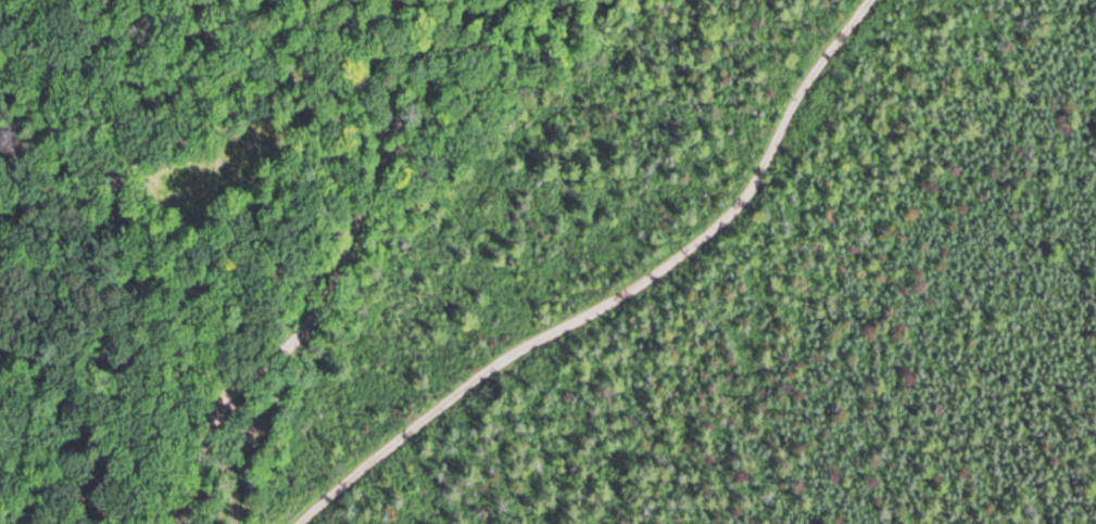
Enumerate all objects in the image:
road: (22, 72)
road: (127, 165)
road: (335, 268)
road: (622, 292)

